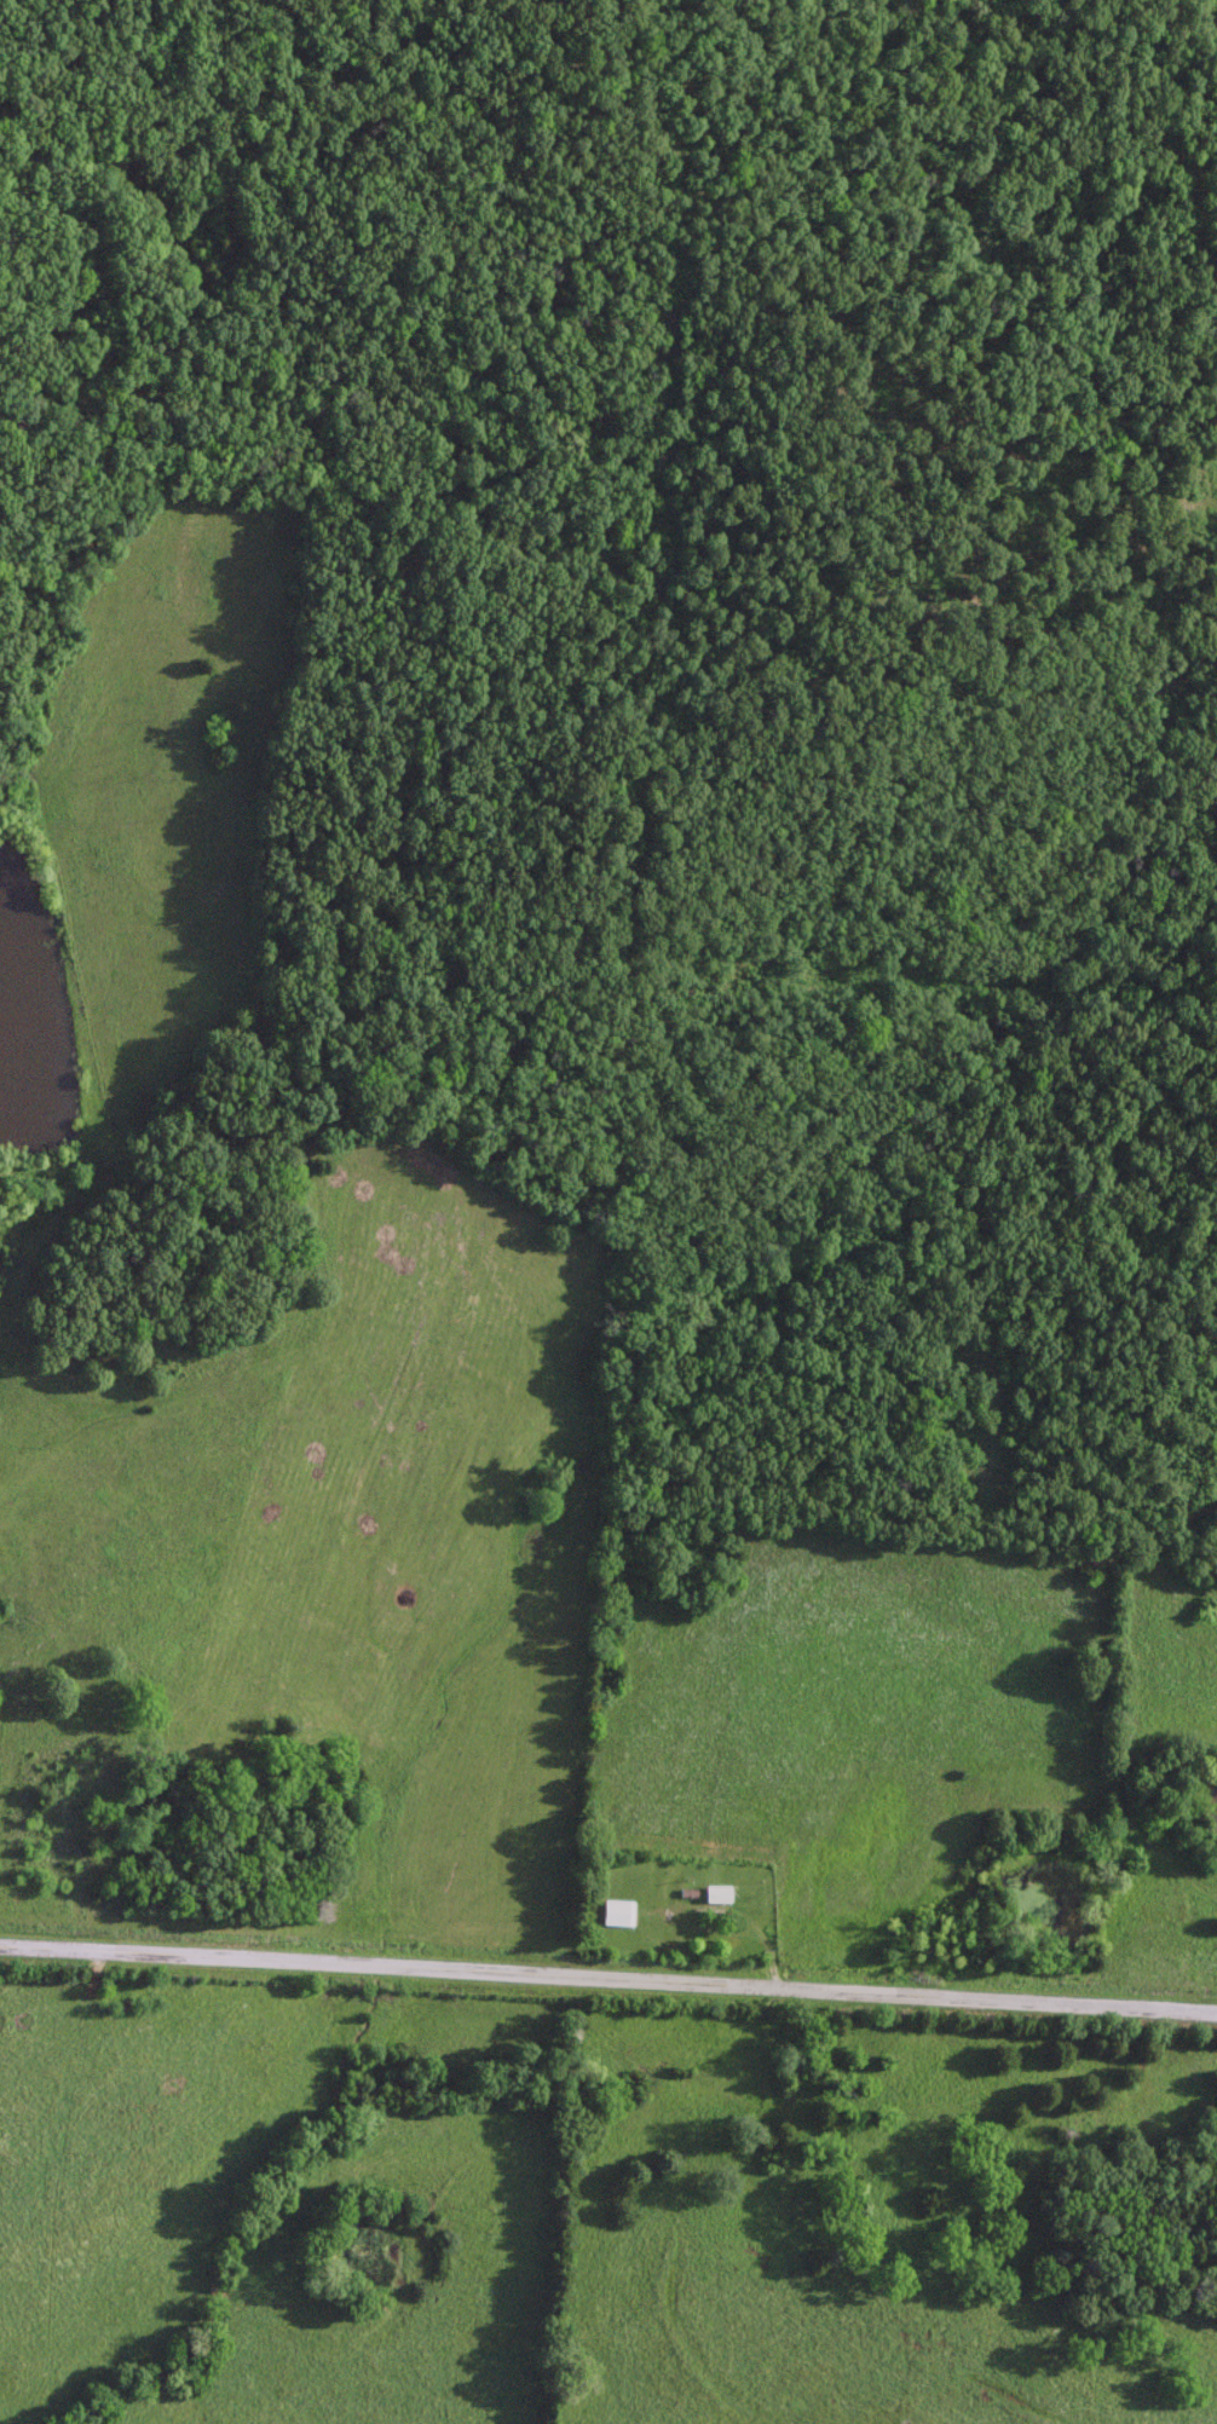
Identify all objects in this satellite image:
building: (716, 1893)
building: (617, 1911)
road: (607, 1981)

